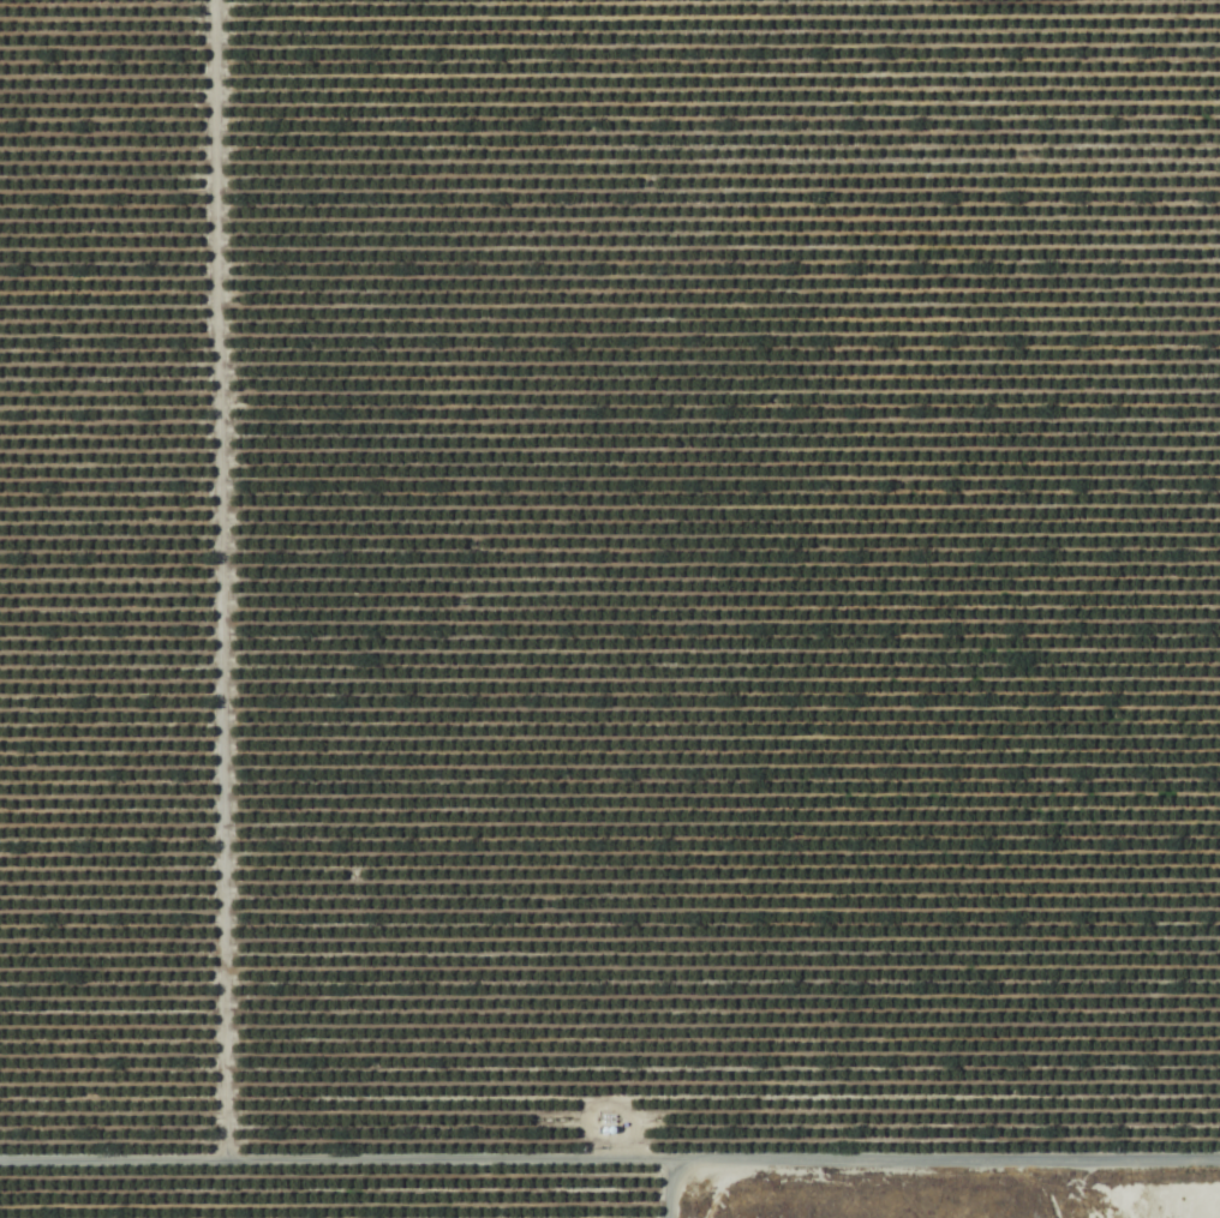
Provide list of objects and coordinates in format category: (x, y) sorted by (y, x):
road: (213, 583)
crop: (604, 600)
road: (610, 1166)

